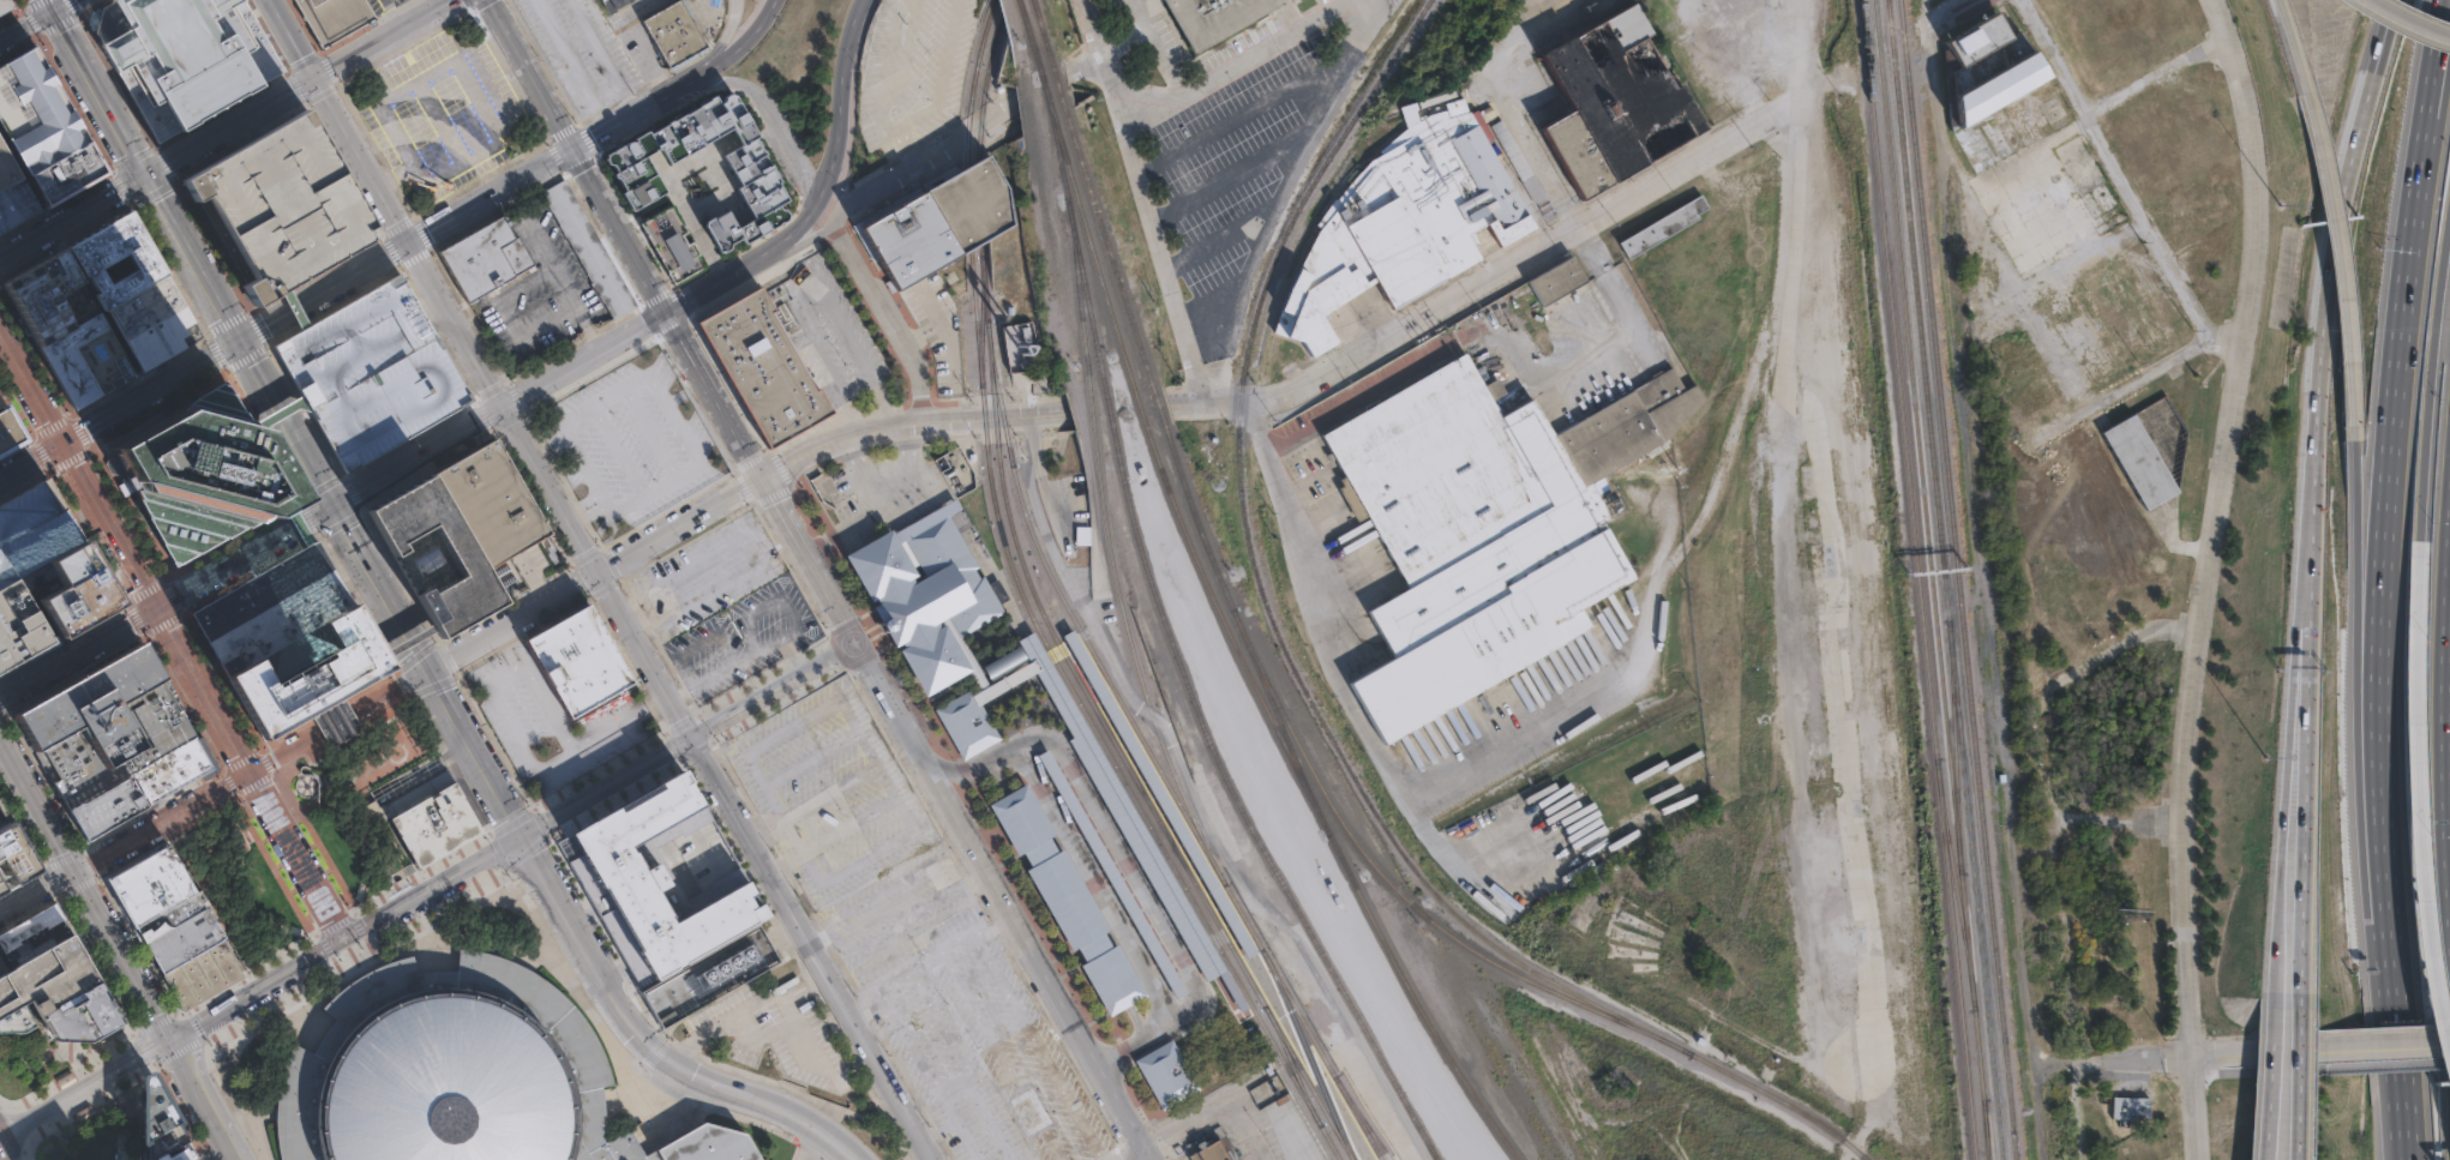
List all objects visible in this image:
building: (4, 5)
road: (32, 5)
road: (48, 5)
road: (61, 5)
building: (615, 5)
railway: (1017, 6)
road: (1954, 6)
road: (71, 7)
road: (89, 7)
road: (20, 10)
traffic signals: (52, 11)
road: (13, 12)
road: (390, 14)
building: (335, 18)
building: (1213, 18)
road: (2412, 20)
road: (31, 23)
road: (58, 24)
road: (25, 25)
road: (2443, 30)
building: (674, 32)
railway: (1025, 32)
road: (38, 37)
road: (719, 40)
road: (2294, 46)
road: (746, 47)
railway: (990, 48)
parking lot: (589, 50)
railway: (978, 52)
building: (184, 55)
road: (602, 55)
road: (571, 64)
railway: (1034, 64)
road: (1088, 64)
road: (1245, 64)
building: (1990, 67)
road: (530, 74)
parking lot: (908, 74)
road: (2155, 77)
road: (115, 79)
traffic signals: (317, 79)
road: (337, 83)
road: (298, 89)
building: (1616, 103)
road: (222, 108)
parking lot: (442, 112)
building: (36, 113)
road: (633, 114)
road: (2431, 119)
road: (438, 120)
road: (340, 121)
railway: (980, 124)
railway: (967, 131)
road: (843, 134)
railway: (1052, 137)
road: (792, 138)
parking lot: (1229, 140)
road: (96, 143)
traffic signals: (571, 150)
road: (132, 157)
road: (164, 163)
road: (921, 164)
building: (6, 166)
building: (1523, 167)
building: (66, 173)
building: (632, 173)
road: (145, 175)
road: (2253, 175)
traffic signals: (146, 176)
road: (394, 176)
railway: (1071, 179)
road: (420, 182)
building: (1457, 184)
road: (120, 186)
road: (2122, 186)
road: (152, 192)
road: (490, 196)
road: (677, 199)
road: (1151, 202)
building: (14, 203)
building: (278, 204)
parking lot: (278, 204)
road: (128, 205)
railway: (1095, 216)
road: (72, 217)
building: (942, 222)
building: (1664, 227)
road: (618, 232)
road: (806, 240)
traffic signals: (409, 242)
building: (673, 244)
railway: (1076, 245)
building: (587, 248)
building: (1392, 252)
road: (1523, 253)
railway: (984, 256)
road: (361, 257)
building: (485, 258)
road: (2343, 260)
road: (2326, 263)
road: (553, 269)
road: (354, 272)
road: (377, 272)
road: (722, 281)
building: (1559, 282)
road: (1617, 286)
building: (131, 289)
railway: (986, 290)
parking lot: (540, 291)
road: (812, 295)
road: (431, 306)
road: (294, 307)
road: (294, 308)
traffic signals: (666, 313)
road: (438, 317)
road: (889, 317)
road: (226, 321)
parking lot: (181, 324)
road: (456, 324)
railway: (983, 324)
road: (263, 325)
railway: (977, 325)
road: (258, 326)
building: (65, 327)
road: (202, 332)
road: (203, 335)
road: (655, 335)
parking lot: (831, 335)
railway: (1117, 336)
parking lot: (942, 337)
traffic signals: (239, 341)
building: (1019, 345)
road: (1589, 350)
road: (214, 353)
railway: (1083, 353)
road: (245, 359)
road: (584, 360)
building: (764, 360)
road: (2216, 365)
road: (271, 369)
building: (371, 372)
parking lot: (371, 372)
road: (218, 374)
road: (2122, 390)
road: (149, 391)
road: (490, 391)
parking lot: (104, 392)
road: (713, 395)
road: (2434, 395)
road: (514, 396)
building: (1, 403)
railway: (1239, 404)
road: (1214, 405)
railway: (1107, 408)
road: (482, 415)
road: (280, 417)
road: (672, 417)
road: (957, 417)
road: (506, 421)
road: (566, 421)
road: (26, 423)
road: (50, 427)
road: (78, 429)
road: (649, 429)
building: (10, 432)
road: (308, 434)
road: (409, 439)
traffic signals: (61, 443)
parking lot: (627, 443)
road: (617, 449)
building: (2151, 450)
road: (318, 451)
road: (40, 452)
road: (751, 458)
road: (30, 459)
road: (68, 459)
road: (781, 464)
road: (77, 469)
road: (425, 470)
building: (196, 477)
traffic signals: (759, 477)
road: (320, 486)
road: (743, 486)
road: (550, 489)
road: (647, 489)
road: (773, 492)
road: (350, 493)
road: (2218, 494)
road: (530, 498)
road: (717, 500)
road: (588, 501)
traffic signals: (335, 505)
building: (486, 505)
road: (329, 507)
road: (582, 510)
road: (593, 510)
road: (83, 511)
road: (2223, 511)
road: (72, 512)
road: (127, 513)
road: (574, 515)
road: (308, 518)
road: (296, 522)
road: (340, 524)
building: (1484, 528)
building: (31, 529)
parking garage: (31, 529)
building: (1083, 535)
road: (230, 540)
road: (684, 542)
road: (757, 545)
building: (452, 547)
railway: (1190, 551)
road: (584, 557)
road: (805, 559)
road: (608, 564)
road: (250, 573)
traffic signals: (596, 573)
parking lot: (704, 573)
railway: (1917, 579)
railway: (1930, 579)
railway: (1942, 579)
railway: (1957, 579)
road: (578, 583)
road: (382, 585)
road: (2385, 588)
road: (143, 590)
road: (602, 590)
building: (925, 591)
building: (68, 593)
road: (172, 597)
road: (2418, 597)
road: (586, 600)
road: (358, 603)
road: (500, 605)
traffic signals: (156, 608)
road: (863, 614)
railway: (1071, 615)
road: (134, 619)
road: (511, 620)
road: (163, 626)
road: (842, 626)
building: (17, 629)
road: (750, 632)
building: (294, 637)
parking lot: (741, 637)
road: (62, 639)
road: (408, 642)
traffic signals: (852, 642)
road: (764, 645)
road: (725, 647)
road: (2115, 649)
road: (680, 650)
road: (835, 651)
road: (78, 653)
building: (962, 653)
road: (789, 654)
road: (642, 655)
road: (414, 656)
road: (866, 656)
road: (443, 659)
building: (576, 662)
traffic signals: (428, 668)
road: (74, 672)
road: (761, 674)
railway: (1081, 679)
road: (222, 680)
road: (403, 683)
road: (431, 684)
road: (203, 687)
road: (2192, 689)
road: (770, 690)
road: (1345, 690)
building: (971, 698)
road: (885, 699)
railway: (1146, 701)
road: (776, 702)
road: (329, 708)
road: (1, 710)
road: (1, 714)
road: (338, 719)
road: (2361, 719)
building: (101, 725)
road: (681, 725)
road: (702, 728)
traffic signals: (690, 737)
road: (944, 737)
road: (493, 741)
road: (672, 745)
railway: (1953, 746)
road: (695, 749)
fountain: (398, 752)
road: (241, 757)
road: (971, 758)
road: (270, 759)
road: (598, 768)
railway: (1119, 768)
traffic signals: (250, 769)
road: (2292, 769)
road: (2306, 770)
building: (169, 771)
road: (217, 774)
railway: (1298, 776)
road: (1045, 780)
road: (43, 782)
road: (2187, 782)
road: (226, 785)
road: (254, 785)
road: (606, 785)
road: (262, 791)
park: (365, 792)
building: (1158, 792)
road: (613, 797)
railway: (1327, 803)
building: (106, 810)
building: (1124, 810)
parking lot: (1, 817)
road: (2122, 817)
road: (511, 821)
road: (539, 822)
building: (432, 825)
road: (22, 828)
parking lot: (852, 830)
traffic signals: (522, 833)
road: (965, 837)
road: (125, 840)
road: (166, 840)
road: (318, 842)
road: (526, 851)
railway: (1265, 851)
road: (498, 852)
road: (1128, 855)
road: (62, 857)
building: (11, 858)
road: (1123, 859)
building: (1115, 863)
road: (90, 864)
road: (2418, 867)
traffic signals: (72, 870)
building: (663, 871)
road: (1099, 871)
building: (1111, 873)
road: (310, 874)
road: (420, 874)
building: (1563, 876)
road: (22, 878)
road: (53, 880)
road: (433, 884)
railway: (1952, 884)
road: (80, 885)
park: (236, 886)
road: (887, 886)
railway: (1427, 886)
road: (84, 889)
building: (154, 895)
building: (1067, 900)
road: (897, 916)
road: (990, 916)
road: (2070, 924)
road: (355, 925)
building: (28, 927)
road: (331, 927)
road: (89, 932)
road: (576, 933)
traffic signals: (344, 937)
road: (2191, 937)
road: (1188, 939)
building: (37, 943)
road: (324, 943)
road: (809, 948)
road: (830, 949)
building: (192, 960)
road: (4, 962)
road: (927, 962)
building: (1, 968)
road: (250, 974)
building: (710, 976)
building: (46, 979)
road: (257, 986)
railway: (1634, 987)
road: (1053, 990)
railway: (1566, 990)
road: (119, 999)
railway: (1637, 1003)
railway: (1417, 1008)
road: (287, 1011)
road: (180, 1014)
railway: (1644, 1016)
building: (17, 1020)
building: (79, 1020)
railway: (1237, 1021)
railway: (1303, 1022)
road: (152, 1023)
road: (194, 1023)
road: (941, 1023)
railway: (1656, 1027)
traffic signals: (172, 1036)
road: (1139, 1038)
railway: (1665, 1038)
road: (908, 1040)
railway: (1680, 1046)
road: (1039, 1047)
road: (2388, 1047)
road: (143, 1048)
railway: (1314, 1050)
road: (179, 1051)
road: (1305, 1051)
road: (50, 1053)
railway: (1308, 1053)
road: (2200, 1054)
road: (1002, 1056)
road: (2397, 1058)
road: (2403, 1058)
parking lot: (986, 1062)
road: (121, 1064)
building: (1169, 1064)
railway: (1292, 1065)
building: (462, 1075)
railway: (1311, 1078)
railway: (1309, 1082)
road: (953, 1083)
road: (2271, 1083)
road: (2301, 1084)
railway: (1763, 1090)
road: (744, 1096)
road: (208, 1098)
park: (70, 1101)
road: (1121, 1106)
road: (89, 1107)
road: (2198, 1107)
road: (1215, 1108)
building: (2131, 1108)
road: (178, 1112)
road: (722, 1112)
road: (36, 1114)
road: (986, 1118)
road: (1151, 1120)
building: (155, 1123)
road: (955, 1126)
parking lot: (1265, 1126)
railway: (1984, 1129)
road: (936, 1131)
road: (10, 1137)
road: (1130, 1137)
road: (2404, 1138)
railway: (1329, 1142)
building: (1208, 1152)
road: (1122, 1153)
road: (8, 1154)
road: (2, 1155)
road: (26, 1155)
building: (180, 1155)
road: (1140, 1155)
road: (1148, 1155)
parking lot: (1188, 1158)
building: (2108, 1159)

